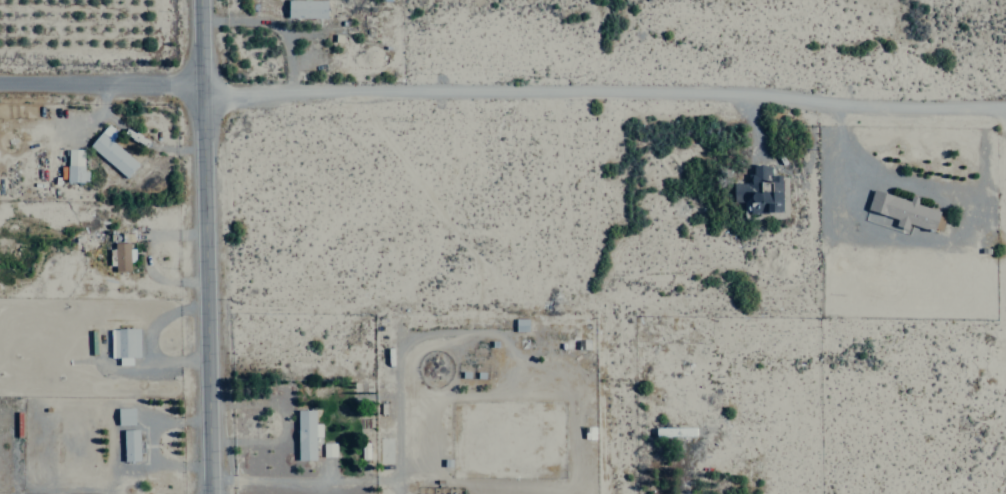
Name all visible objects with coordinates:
building: (306, 8)
road: (503, 90)
building: (112, 151)
building: (74, 166)
building: (760, 191)
building: (904, 211)
road: (210, 247)
building: (122, 256)
building: (520, 324)
building: (124, 344)
building: (125, 416)
building: (670, 432)
building: (306, 434)
building: (130, 445)
building: (327, 449)

